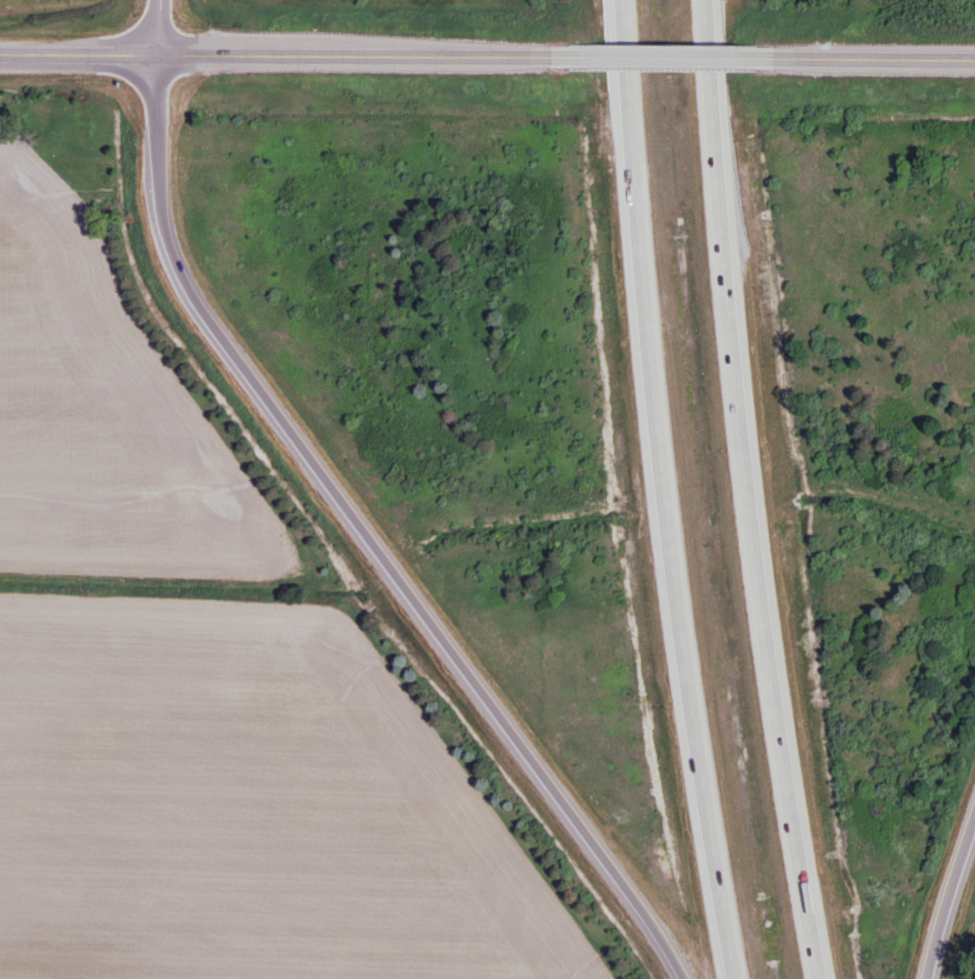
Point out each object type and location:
road: (156, 24)
road: (297, 51)
road: (880, 56)
road: (690, 57)
road: (658, 491)
road: (746, 491)
road: (365, 533)
road: (945, 889)

